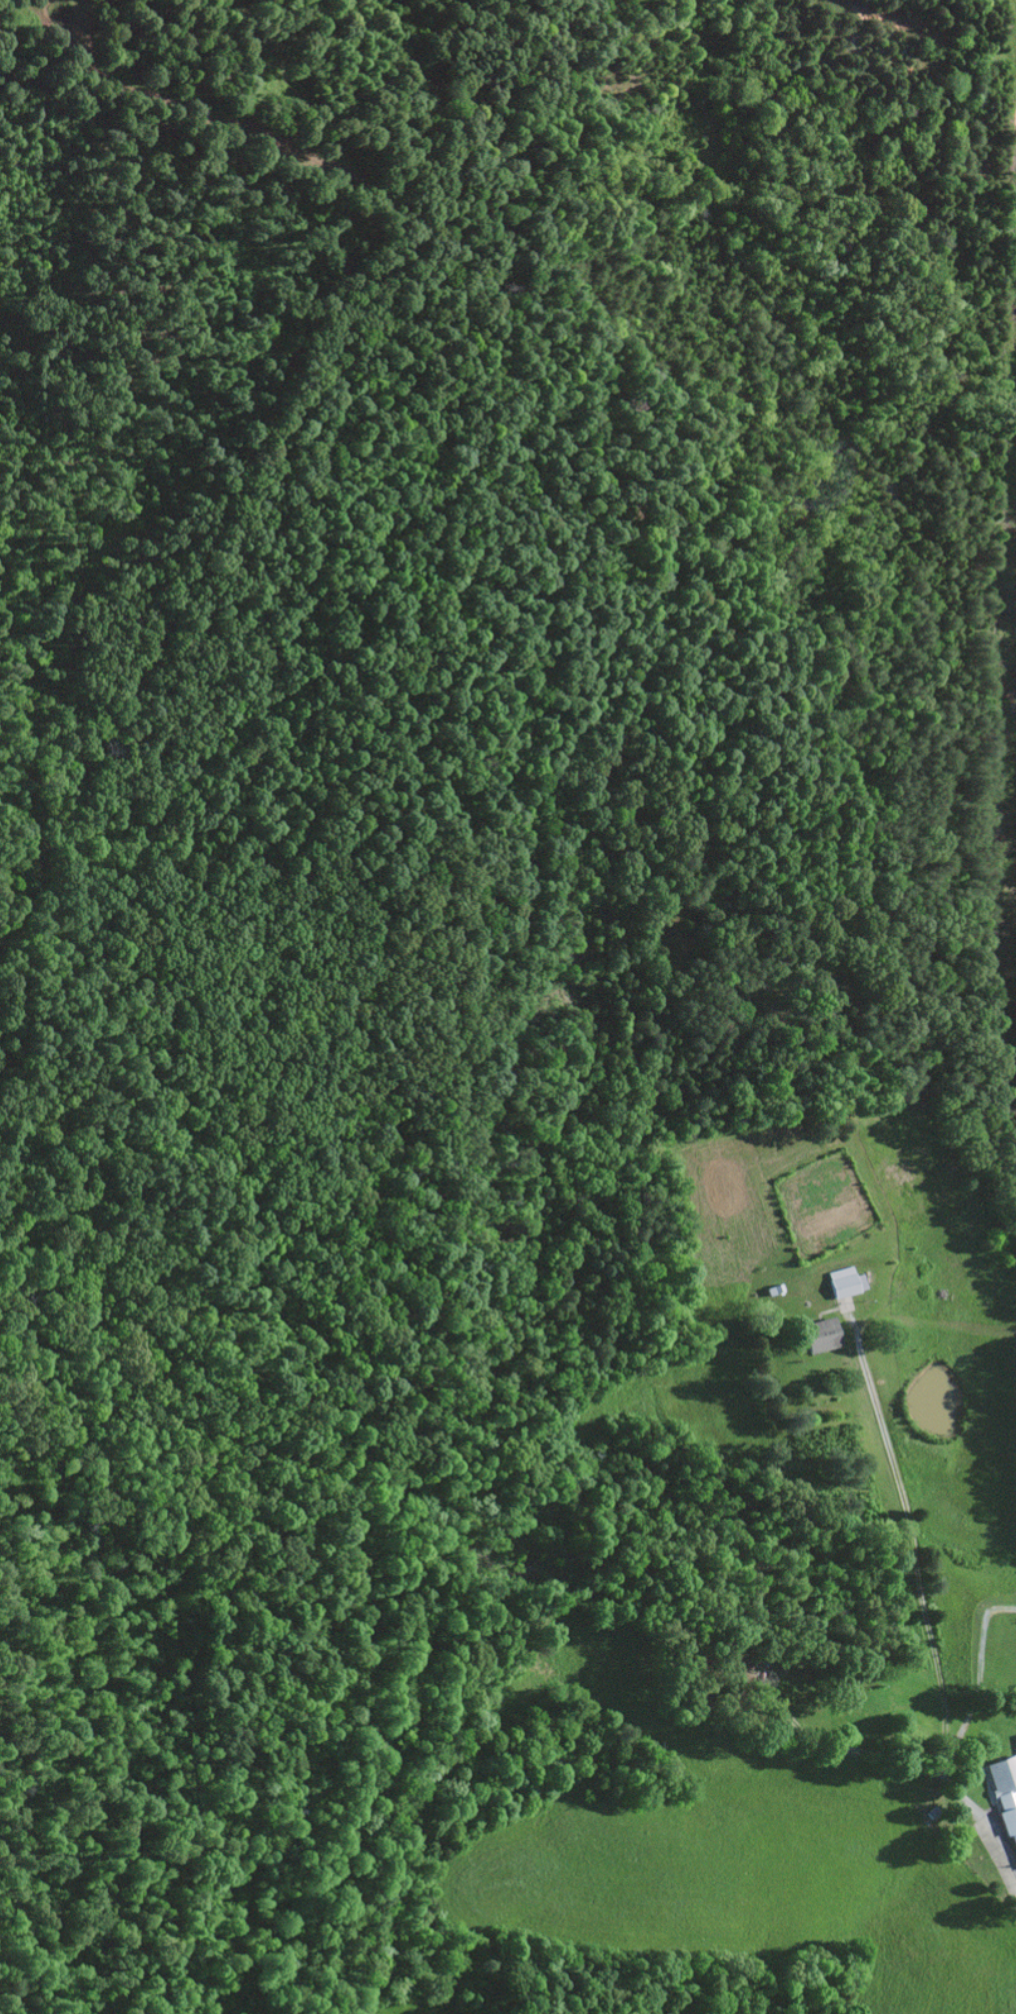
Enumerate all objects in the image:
building: (846, 1282)
building: (822, 1335)
park: (1012, 1691)
road: (909, 1741)
building: (1005, 1792)

